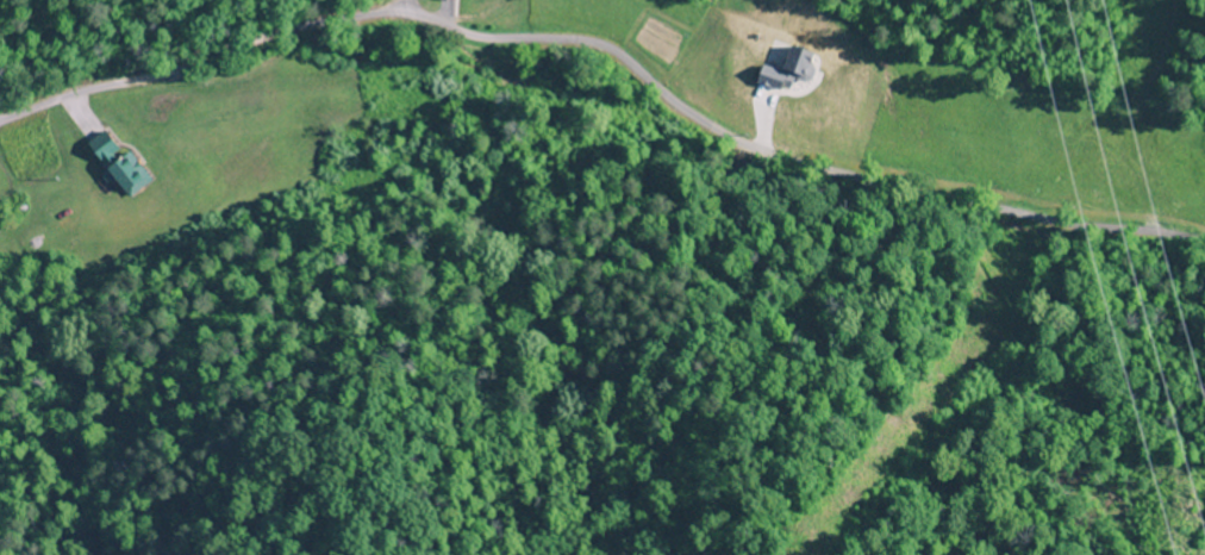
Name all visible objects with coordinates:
building: (445, 0)
road: (405, 11)
road: (618, 54)
road: (7, 119)
road: (7, 123)
building: (115, 163)

